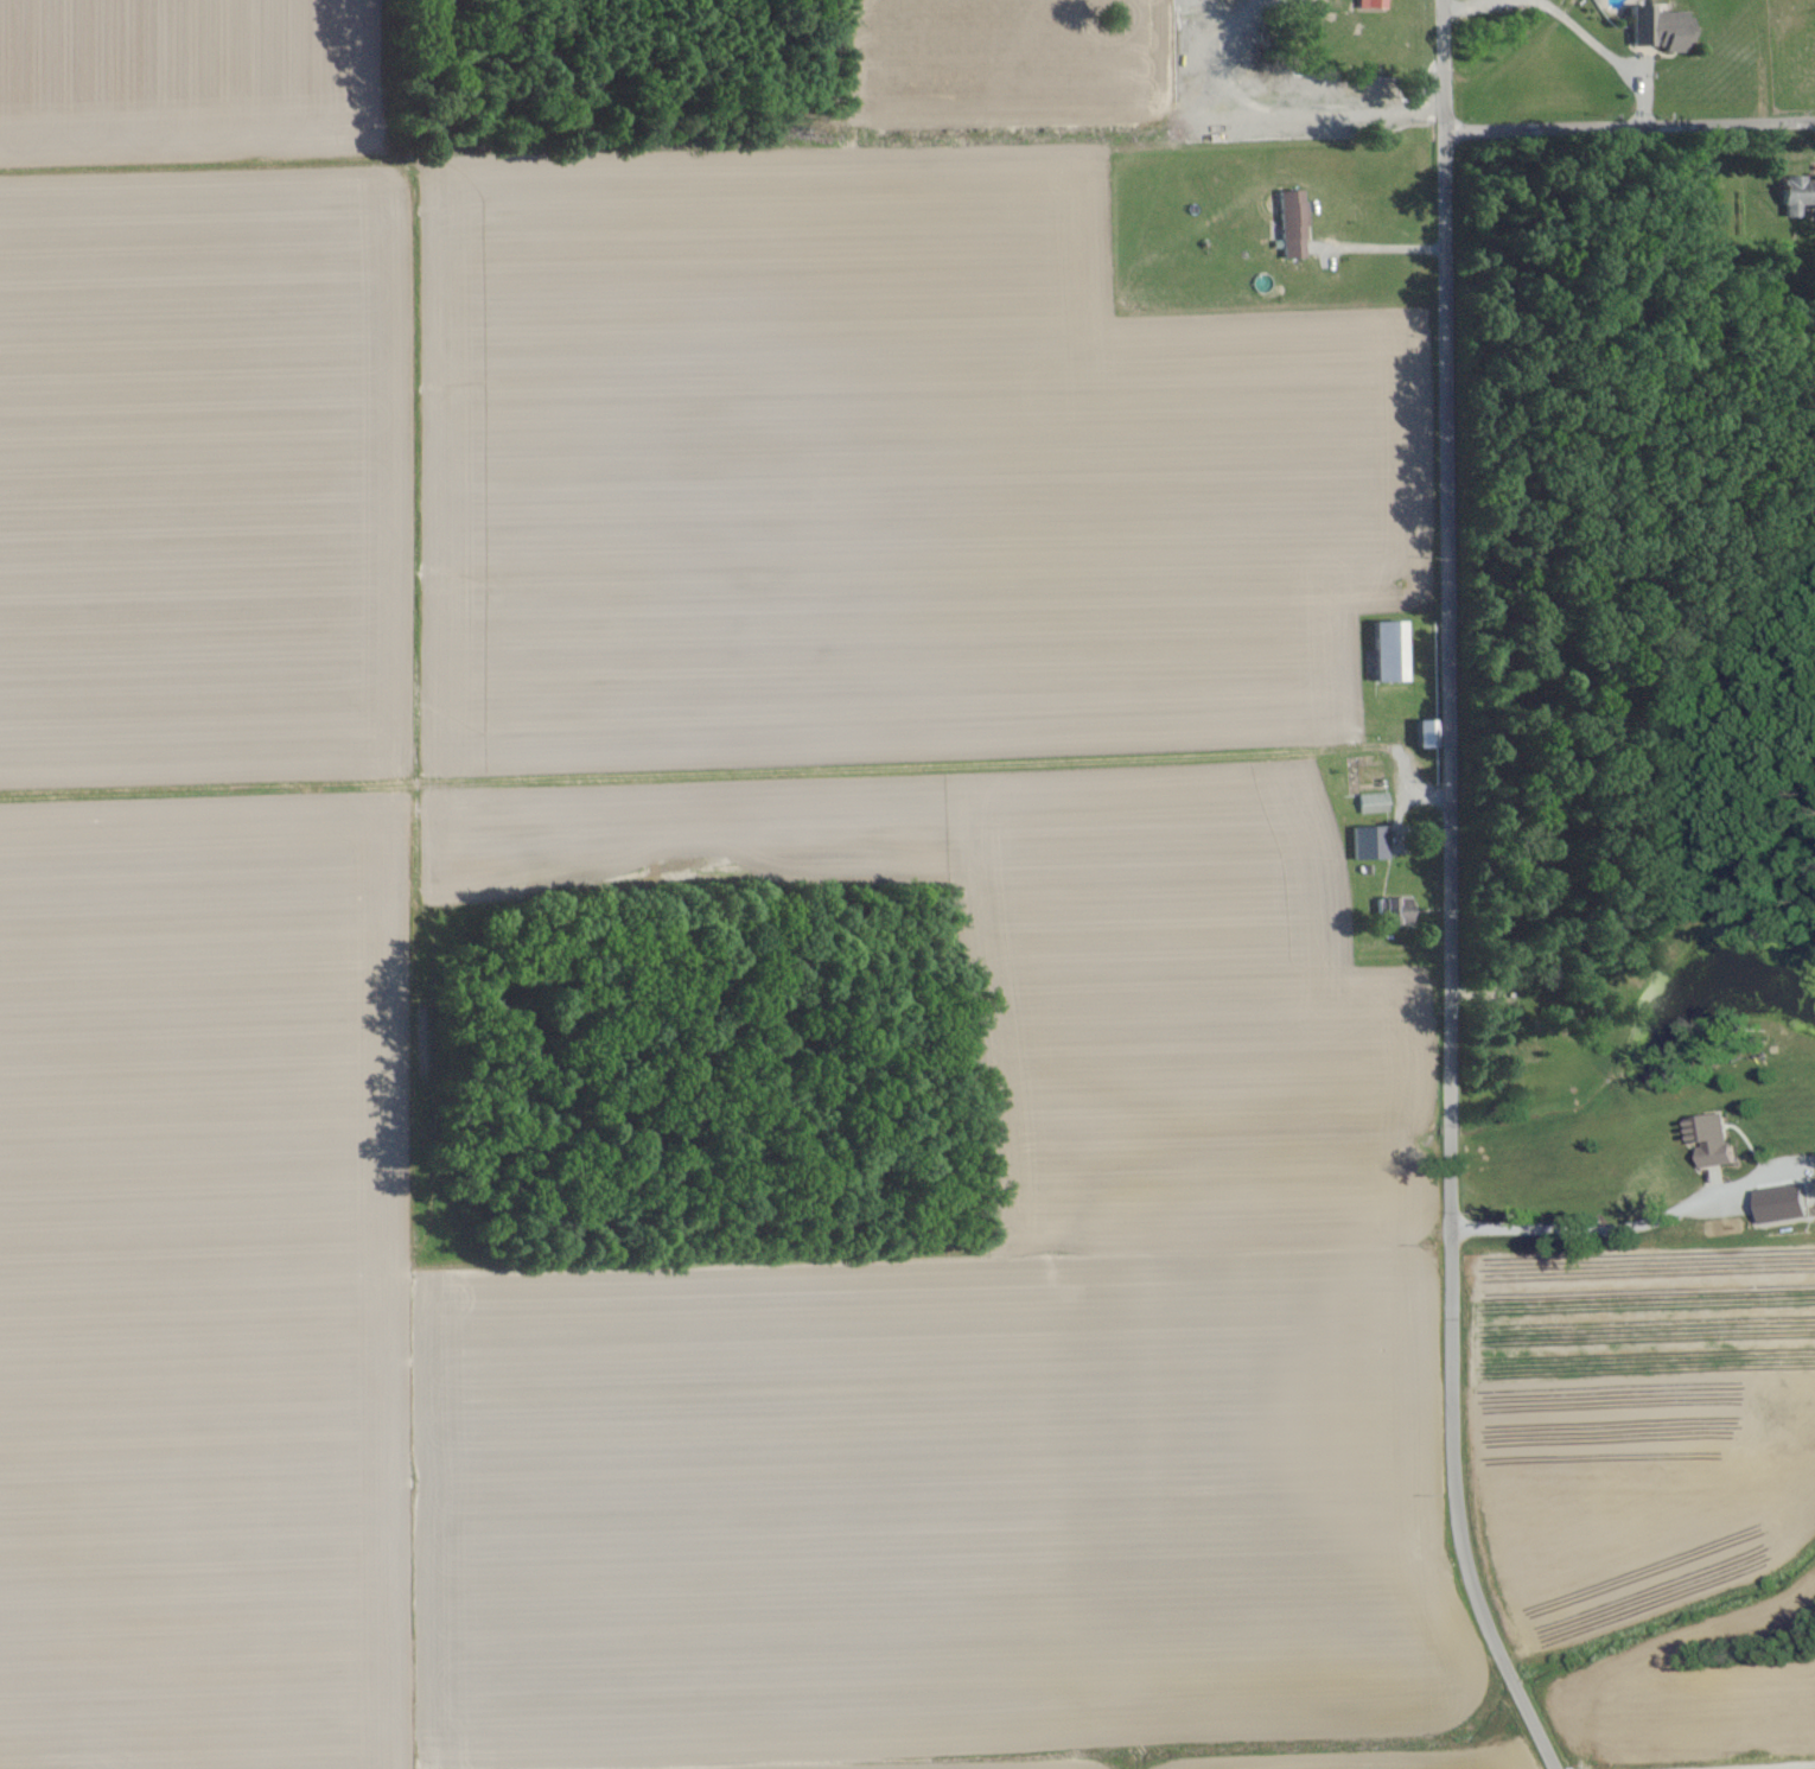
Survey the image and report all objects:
building: (1367, 5)
road: (1566, 26)
building: (1655, 31)
road: (1282, 113)
road: (1630, 128)
building: (1795, 196)
building: (1287, 227)
building: (1383, 654)
building: (1419, 737)
building: (1368, 806)
building: (1365, 846)
road: (1447, 893)
building: (1390, 914)
building: (1706, 1139)
building: (1778, 1203)
road: (1598, 1232)

